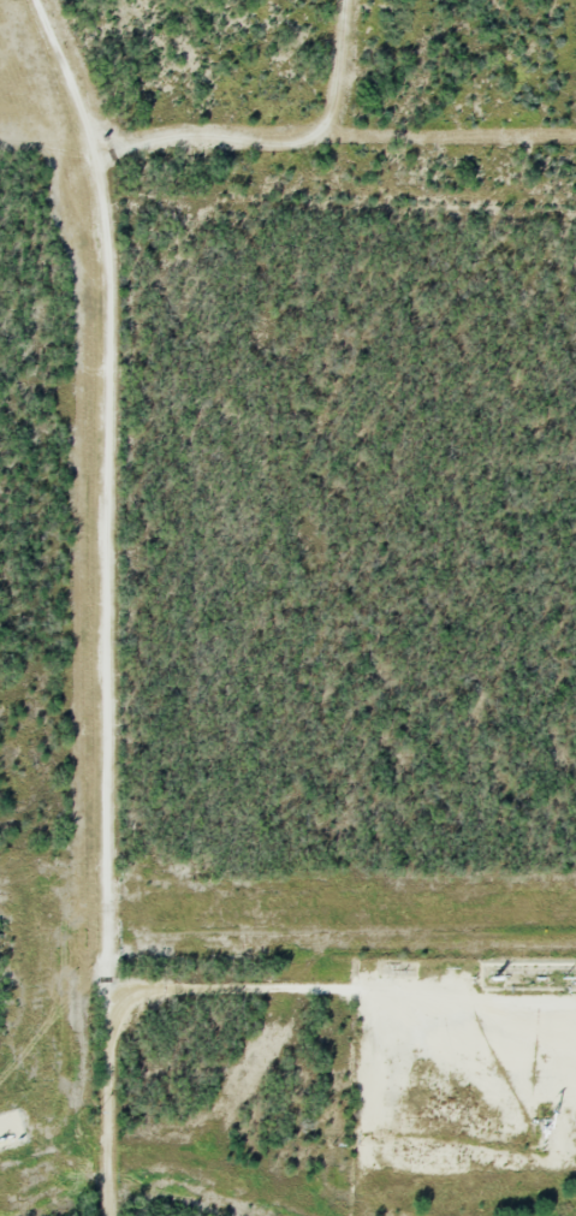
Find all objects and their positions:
road: (107, 601)

